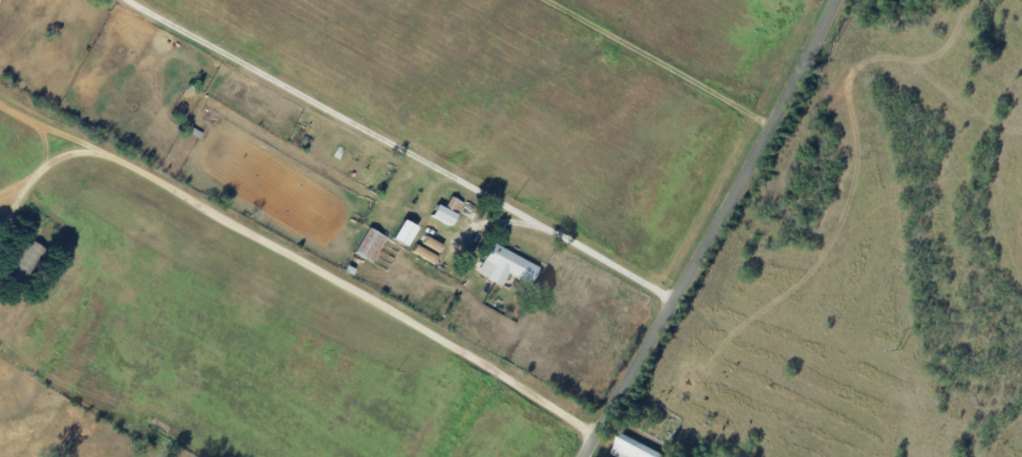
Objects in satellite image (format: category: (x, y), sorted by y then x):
road: (1021, 0)
power tower: (834, 42)
road: (621, 104)
road: (401, 147)
road: (47, 165)
building: (444, 210)
road: (707, 229)
building: (24, 258)
road: (299, 259)
building: (503, 265)
power tower: (899, 349)
building: (633, 448)

